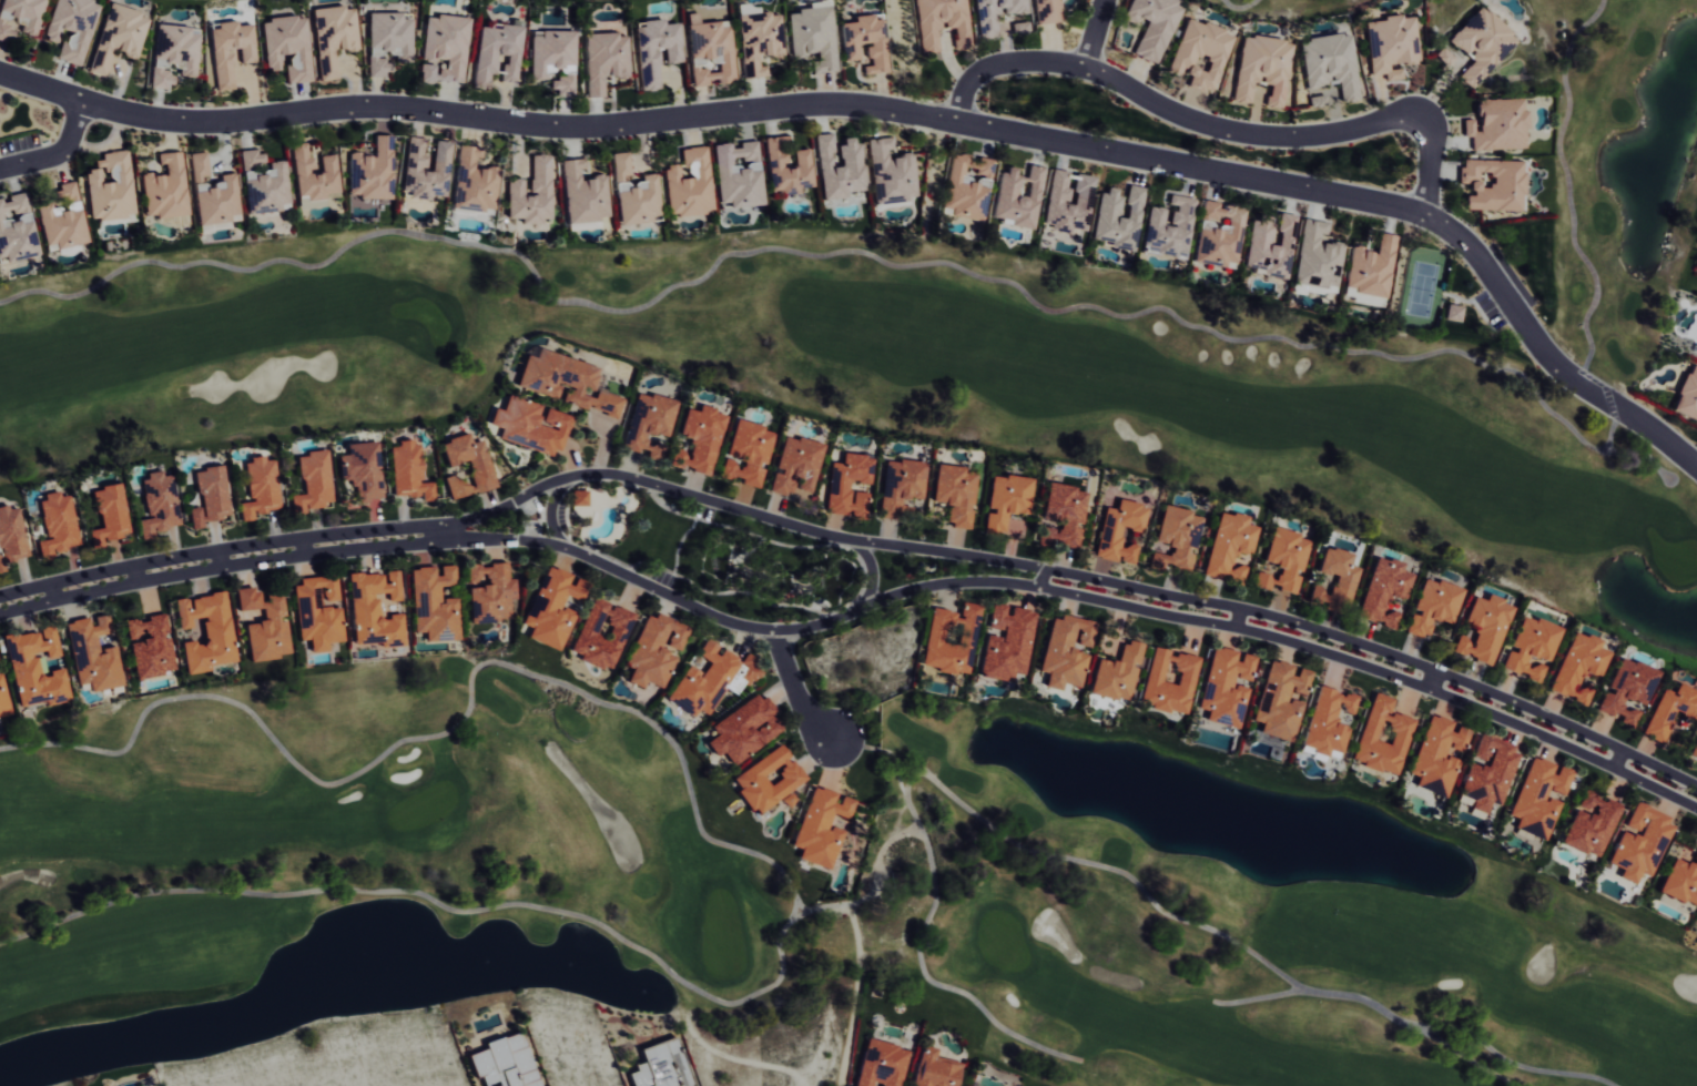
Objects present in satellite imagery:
park: (599, 0)
park: (223, 1)
park: (1293, 7)
building: (1045, 11)
building: (994, 13)
building: (19, 18)
building: (939, 22)
building: (1151, 24)
building: (72, 28)
building: (812, 34)
road: (1094, 34)
building: (119, 37)
building: (335, 38)
building: (864, 41)
building: (1391, 44)
building: (1480, 44)
building: (289, 47)
building: (445, 48)
building: (654, 50)
building: (709, 50)
building: (232, 51)
building: (550, 51)
building: (497, 52)
building: (1199, 53)
building: (603, 60)
building: (1329, 63)
building: (1261, 68)
building: (163, 79)
building: (561, 83)
road: (898, 111)
building: (1497, 124)
road: (1217, 129)
road: (57, 154)
building: (785, 166)
building: (837, 166)
building: (426, 169)
building: (738, 173)
building: (888, 173)
building: (472, 182)
building: (265, 183)
building: (689, 183)
building: (1492, 183)
building: (966, 186)
building: (111, 187)
building: (166, 189)
building: (68, 193)
building: (530, 193)
building: (633, 193)
building: (214, 194)
building: (583, 194)
building: (1017, 196)
building: (1117, 217)
building: (62, 227)
building: (1168, 229)
building: (17, 230)
building: (1218, 234)
building: (1268, 246)
building: (1315, 256)
building: (1369, 267)
building: (1453, 313)
park: (989, 352)
building: (565, 380)
building: (1687, 395)
building: (646, 423)
building: (528, 425)
building: (695, 439)
building: (743, 453)
building: (792, 465)
building: (362, 469)
building: (479, 470)
building: (408, 471)
building: (312, 483)
building: (846, 485)
building: (897, 486)
building: (258, 488)
building: (953, 493)
building: (209, 496)
building: (577, 497)
building: (1003, 499)
building: (159, 504)
road: (551, 511)
building: (1059, 514)
building: (111, 515)
building: (58, 524)
building: (1116, 530)
road: (446, 534)
building: (11, 537)
building: (1172, 538)
road: (855, 540)
road: (304, 547)
building: (1226, 547)
road: (221, 560)
building: (1282, 560)
building: (1338, 571)
road: (870, 572)
road: (1041, 579)
building: (1383, 590)
building: (488, 591)
road: (53, 592)
building: (433, 602)
building: (1433, 606)
building: (550, 607)
road: (855, 609)
building: (374, 610)
building: (316, 612)
road: (1236, 618)
building: (263, 625)
building: (1484, 628)
building: (205, 630)
building: (600, 633)
building: (948, 639)
building: (1003, 642)
building: (151, 646)
building: (1531, 647)
building: (651, 650)
building: (1061, 650)
building: (94, 653)
building: (1577, 666)
building: (37, 668)
building: (1114, 673)
building: (709, 679)
building: (1165, 680)
road: (1433, 681)
building: (1222, 686)
road: (794, 690)
building: (1625, 690)
building: (3, 699)
building: (1278, 699)
building: (1668, 710)
building: (1324, 721)
building: (742, 729)
building: (1380, 737)
building: (1694, 749)
building: (1435, 755)
road: (1618, 760)
building: (1487, 773)
building: (765, 780)
building: (1538, 796)
building: (1591, 824)
building: (819, 826)
building: (1639, 843)
building: (1680, 881)
park: (782, 894)
building: (502, 1063)
building: (880, 1064)
building: (660, 1066)
building: (933, 1069)

